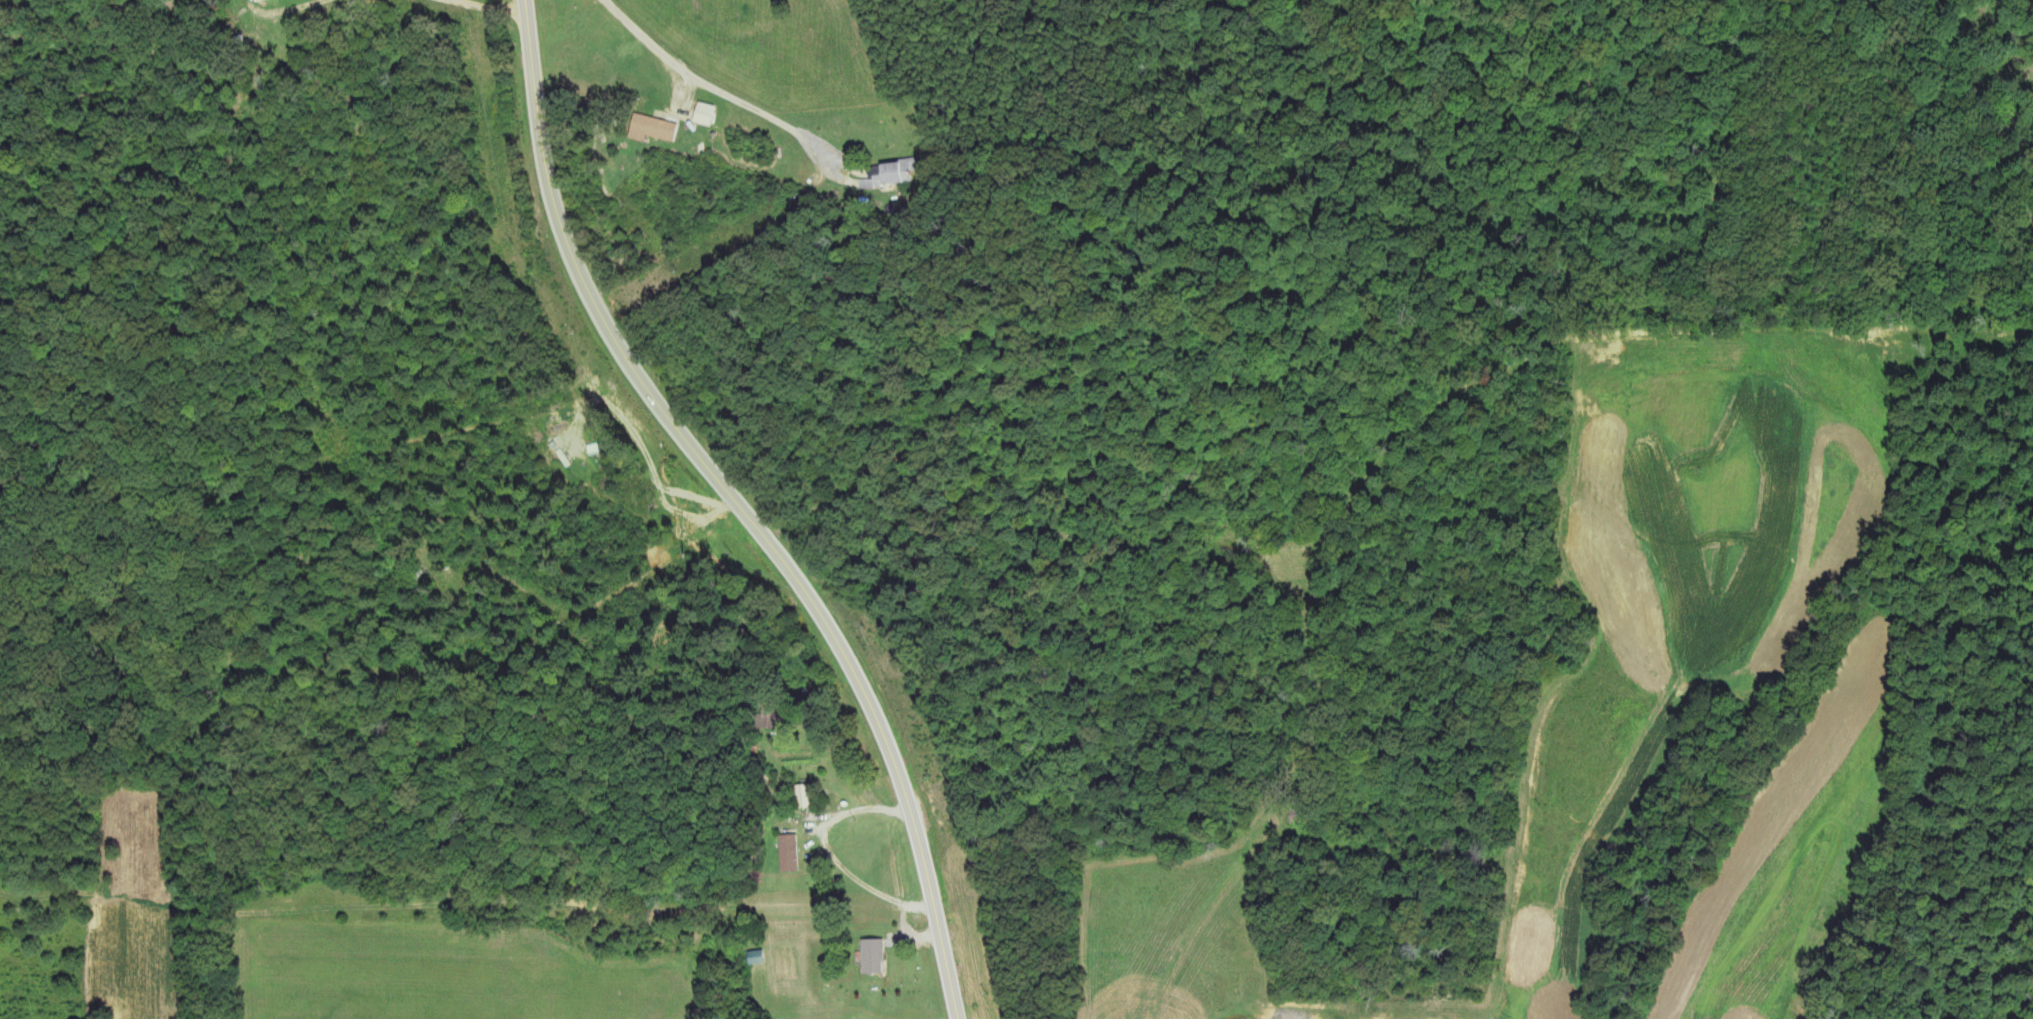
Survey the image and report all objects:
building: (256, 0)
road: (289, 0)
road: (489, 7)
road: (724, 95)
building: (700, 110)
building: (653, 128)
building: (900, 171)
road: (740, 506)
building: (803, 796)
road: (855, 812)
building: (789, 853)
building: (874, 956)
building: (756, 957)

